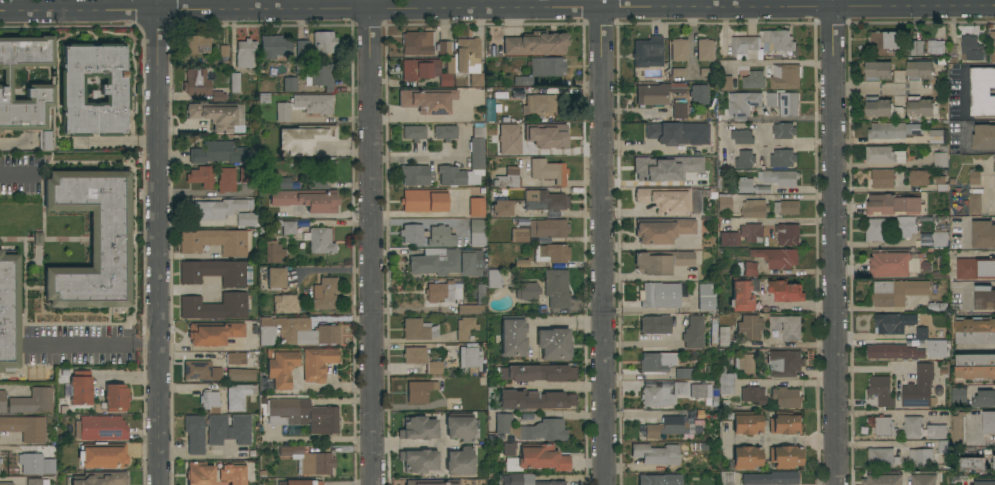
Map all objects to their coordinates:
road: (831, 3)
road: (602, 4)
road: (157, 5)
road: (913, 5)
road: (416, 9)
building: (779, 39)
building: (883, 41)
building: (323, 42)
building: (417, 43)
building: (536, 43)
building: (196, 44)
building: (274, 46)
building: (745, 46)
building: (935, 46)
building: (992, 46)
building: (302, 47)
building: (443, 47)
building: (916, 47)
building: (971, 48)
building: (678, 49)
building: (704, 49)
building: (223, 52)
building: (647, 52)
building: (952, 52)
building: (244, 53)
building: (469, 60)
building: (418, 68)
building: (542, 69)
building: (919, 69)
building: (877, 70)
building: (676, 72)
building: (447, 73)
building: (320, 74)
road: (961, 74)
building: (6, 76)
building: (785, 76)
building: (490, 78)
building: (753, 79)
building: (196, 82)
building: (234, 82)
building: (723, 82)
building: (290, 84)
road: (878, 87)
building: (113, 89)
building: (982, 90)
building: (656, 93)
building: (698, 93)
building: (499, 95)
building: (217, 96)
building: (427, 100)
building: (783, 102)
building: (742, 103)
building: (538, 104)
building: (305, 105)
building: (880, 106)
building: (920, 106)
building: (679, 110)
building: (214, 114)
road: (978, 116)
road: (418, 117)
road: (322, 118)
building: (783, 130)
building: (886, 130)
building: (509, 131)
building: (413, 132)
building: (445, 132)
building: (677, 133)
road: (764, 134)
building: (936, 135)
building: (742, 136)
building: (983, 136)
building: (304, 138)
building: (552, 139)
road: (768, 141)
road: (963, 150)
building: (217, 152)
road: (764, 153)
road: (726, 154)
building: (883, 154)
building: (940, 156)
building: (782, 157)
road: (416, 158)
building: (744, 158)
building: (476, 160)
building: (685, 160)
building: (994, 163)
building: (547, 171)
road: (16, 174)
building: (246, 174)
building: (651, 174)
building: (318, 175)
building: (416, 175)
building: (201, 176)
building: (974, 176)
building: (780, 177)
building: (918, 177)
building: (508, 178)
building: (882, 178)
building: (226, 180)
building: (941, 182)
building: (284, 183)
building: (749, 185)
building: (994, 197)
building: (306, 199)
building: (665, 199)
building: (424, 200)
building: (544, 200)
building: (723, 202)
building: (974, 203)
building: (894, 204)
building: (787, 206)
building: (476, 207)
building: (220, 208)
building: (501, 208)
building: (754, 209)
building: (246, 219)
building: (905, 226)
building: (288, 227)
building: (548, 228)
building: (666, 229)
building: (874, 229)
building: (476, 232)
building: (751, 232)
building: (787, 233)
building: (983, 233)
building: (412, 234)
building: (440, 236)
building: (520, 236)
building: (940, 238)
building: (92, 239)
building: (727, 239)
building: (319, 240)
building: (214, 241)
road: (370, 242)
road: (834, 245)
road: (604, 246)
road: (158, 248)
building: (273, 252)
building: (551, 253)
building: (777, 257)
building: (660, 261)
building: (891, 262)
building: (448, 263)
building: (520, 264)
building: (975, 267)
building: (750, 268)
building: (216, 272)
building: (275, 278)
building: (492, 278)
road: (968, 282)
building: (556, 288)
building: (784, 289)
building: (443, 291)
building: (527, 291)
building: (896, 291)
building: (324, 293)
building: (480, 294)
building: (659, 295)
building: (740, 295)
building: (984, 297)
building: (705, 298)
building: (285, 303)
building: (215, 306)
building: (470, 309)
building: (8, 310)
building: (888, 323)
building: (655, 324)
building: (786, 325)
building: (748, 327)
building: (465, 328)
building: (418, 329)
building: (974, 329)
building: (266, 330)
building: (307, 332)
building: (693, 332)
building: (920, 332)
building: (213, 333)
building: (512, 336)
building: (713, 336)
building: (723, 336)
road: (94, 342)
building: (554, 344)
building: (936, 347)
building: (893, 351)
building: (236, 358)
building: (469, 358)
building: (421, 359)
building: (657, 362)
building: (784, 362)
building: (317, 363)
building: (744, 363)
building: (280, 366)
building: (975, 366)
building: (201, 370)
building: (0, 372)
building: (537, 372)
building: (684, 373)
building: (240, 374)
building: (724, 381)
road: (557, 386)
building: (919, 386)
road: (983, 386)
building: (80, 387)
building: (679, 388)
building: (880, 390)
building: (419, 391)
building: (698, 391)
building: (959, 393)
building: (753, 394)
building: (238, 396)
building: (656, 396)
building: (786, 396)
building: (115, 397)
building: (984, 398)
building: (535, 399)
building: (209, 400)
building: (2, 401)
building: (32, 401)
building: (298, 414)
building: (695, 416)
building: (988, 422)
building: (746, 423)
building: (785, 423)
building: (882, 424)
building: (911, 425)
building: (460, 426)
building: (958, 426)
building: (25, 427)
building: (670, 427)
building: (102, 428)
building: (418, 428)
building: (531, 428)
building: (228, 429)
building: (936, 431)
building: (195, 433)
road: (884, 442)
road: (413, 444)
road: (441, 444)
building: (944, 446)
building: (509, 449)
building: (656, 454)
building: (102, 455)
building: (785, 456)
building: (882, 456)
building: (920, 456)
building: (746, 457)
building: (538, 458)
building: (309, 460)
building: (418, 460)
building: (28, 462)
building: (460, 462)
building: (993, 462)
building: (971, 463)
building: (48, 466)
building: (232, 472)
building: (199, 474)
building: (923, 477)
building: (102, 478)
building: (725, 478)
building: (771, 478)
building: (882, 478)
building: (659, 479)
building: (525, 480)
building: (983, 480)
building: (33, 482)
building: (300, 482)
building: (432, 482)
building: (6, 483)

